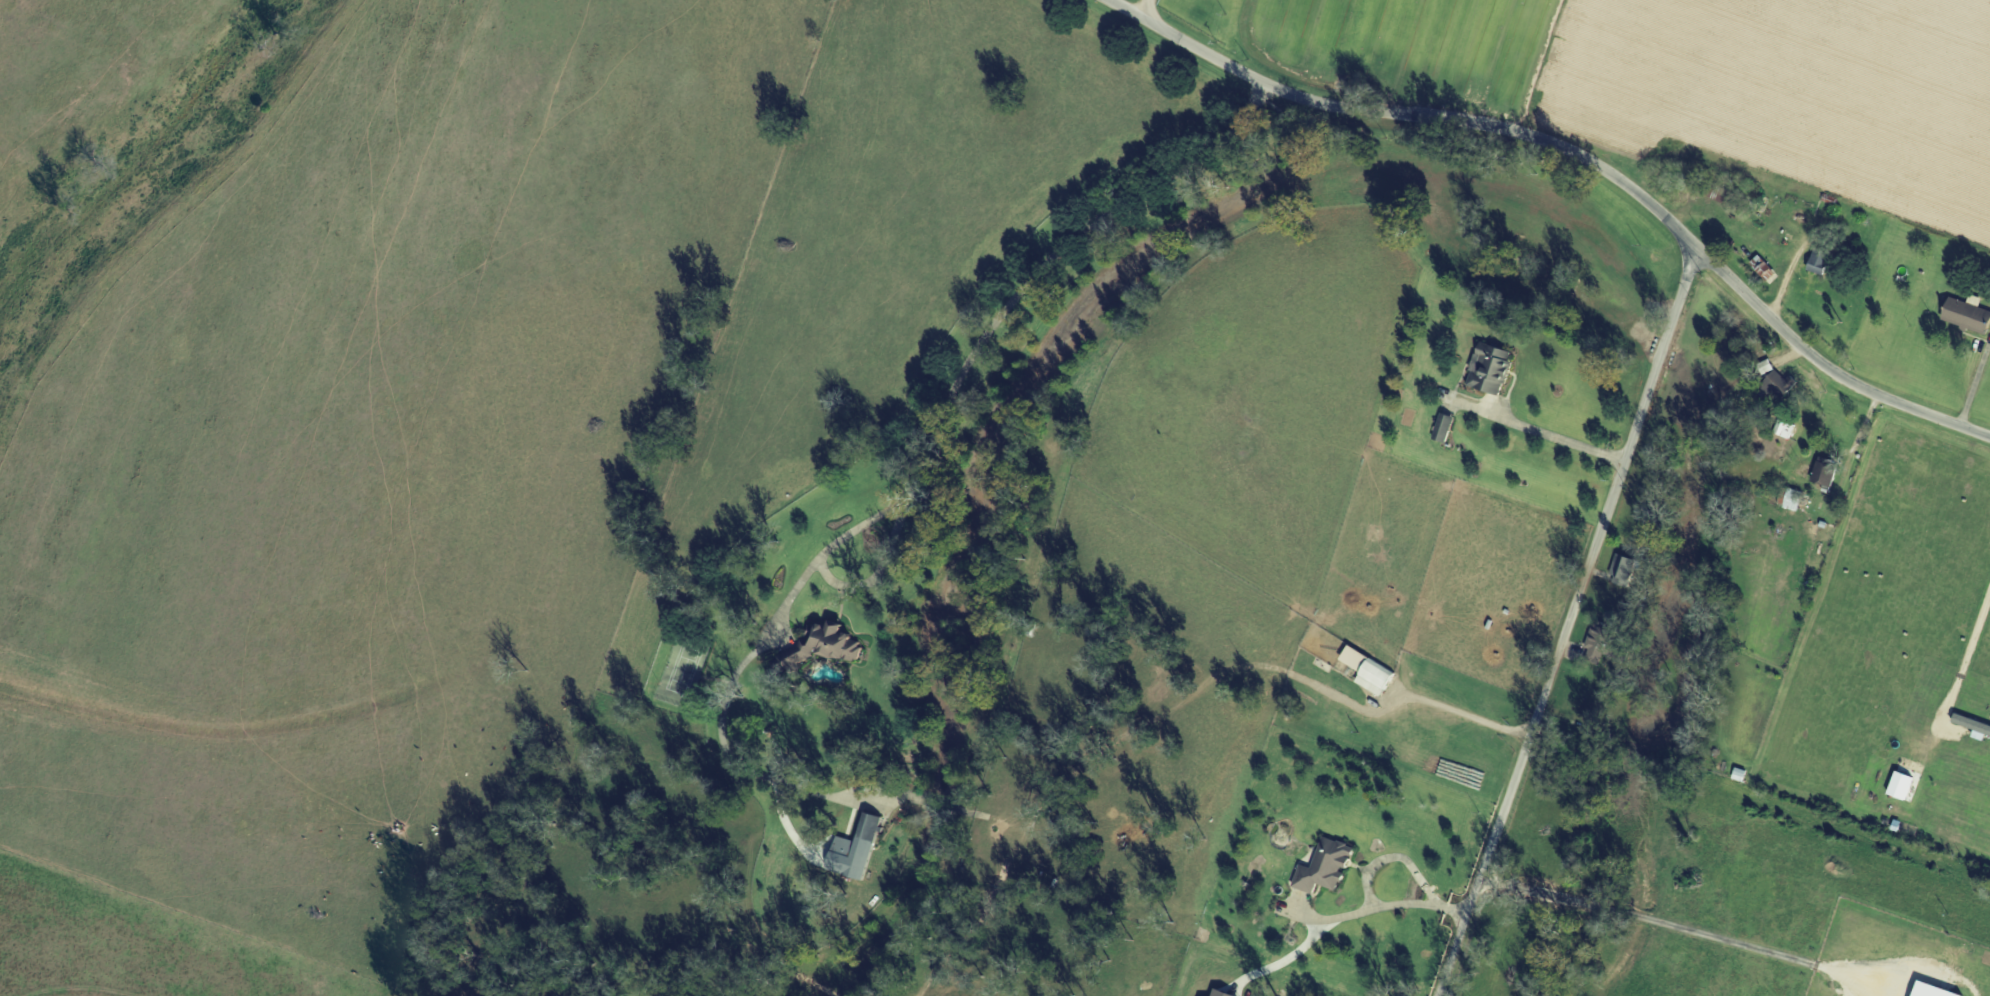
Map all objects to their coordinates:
road: (1144, 12)
road: (1576, 153)
building: (1818, 261)
building: (1765, 268)
road: (1838, 269)
road: (1775, 302)
building: (1967, 315)
road: (973, 359)
building: (1489, 369)
building: (1778, 384)
road: (1976, 388)
building: (1443, 428)
building: (1785, 430)
road: (1540, 433)
building: (1824, 475)
building: (1793, 499)
building: (1621, 566)
road: (1572, 624)
building: (823, 647)
building: (1596, 656)
road: (1968, 666)
building: (1369, 671)
building: (1902, 786)
building: (855, 850)
building: (1324, 866)
road: (1382, 900)
building: (1931, 990)
building: (1220, 993)

